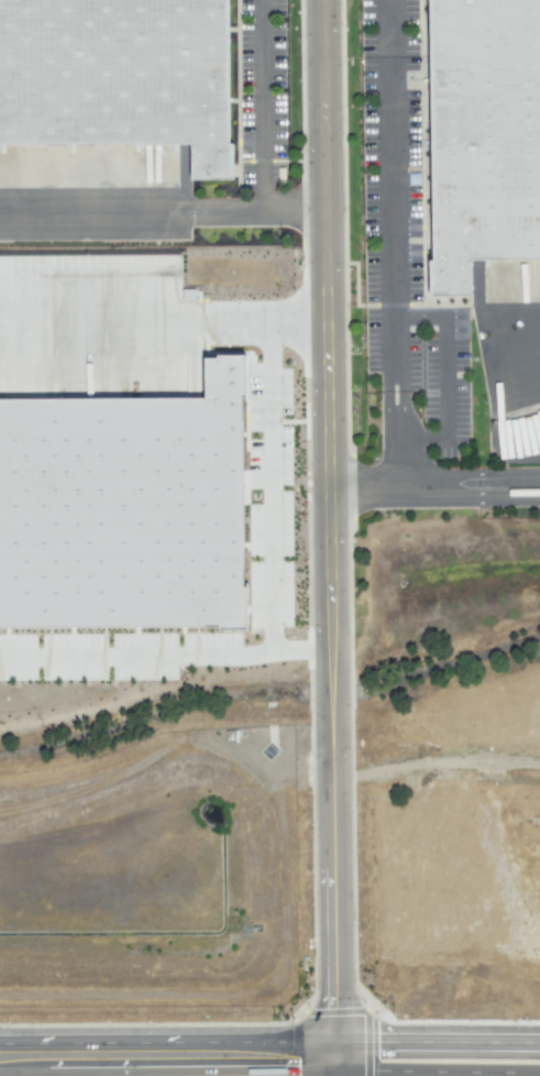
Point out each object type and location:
building: (117, 92)
road: (260, 106)
building: (482, 136)
road: (163, 212)
road: (395, 277)
road: (444, 377)
road: (469, 485)
road: (268, 490)
building: (123, 509)
road: (329, 528)
traffic signals: (333, 1057)
road: (269, 1058)
road: (333, 1066)

